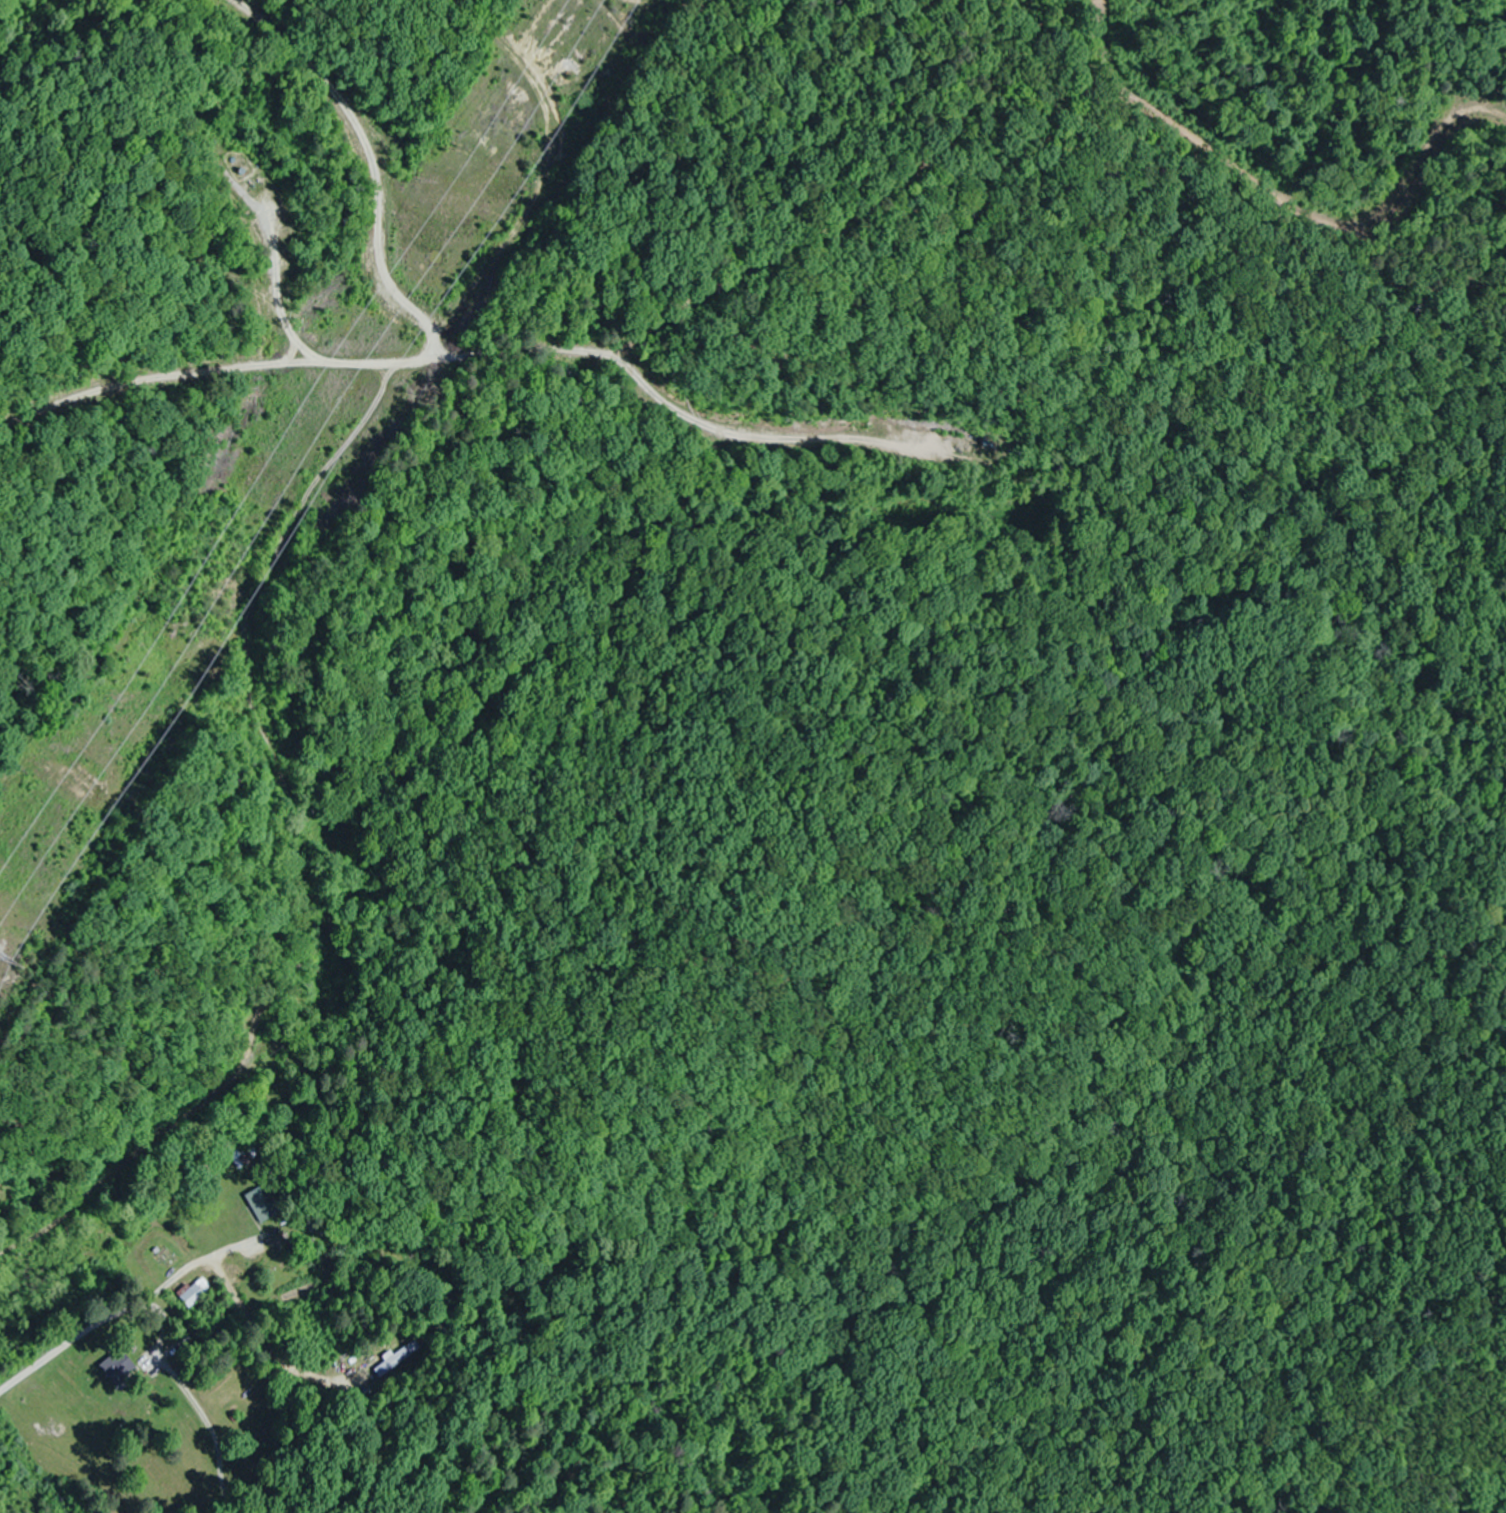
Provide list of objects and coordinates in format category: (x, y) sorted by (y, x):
building: (260, 1203)
road: (125, 1311)
building: (394, 1358)
building: (118, 1366)

